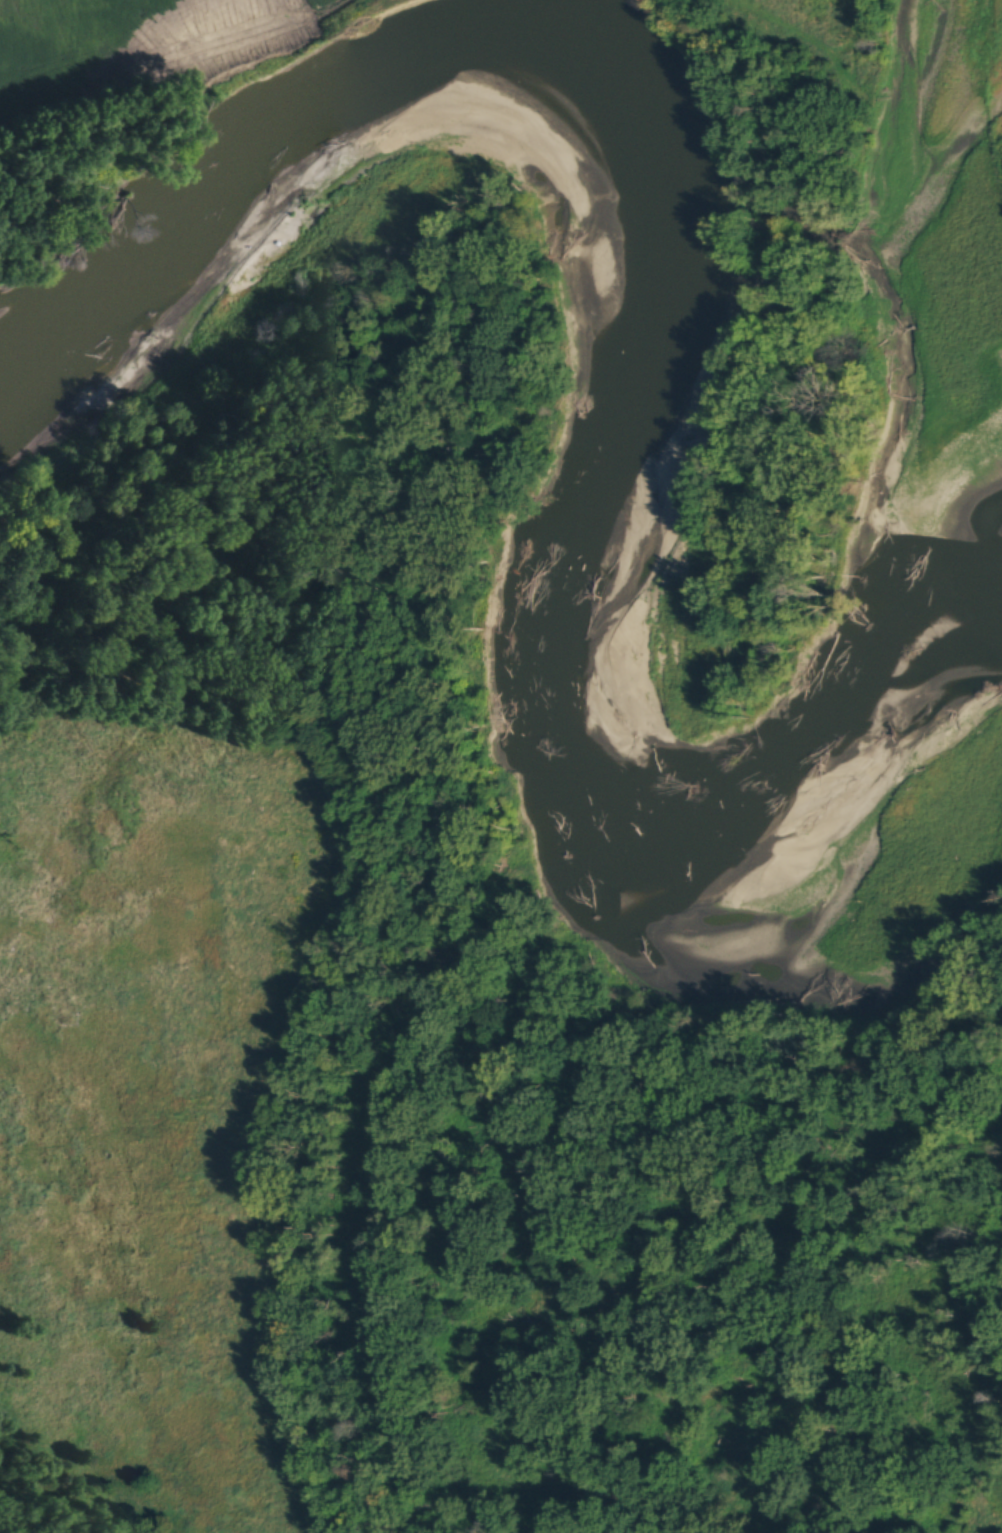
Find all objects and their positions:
river: (965, 168)
river: (656, 324)

